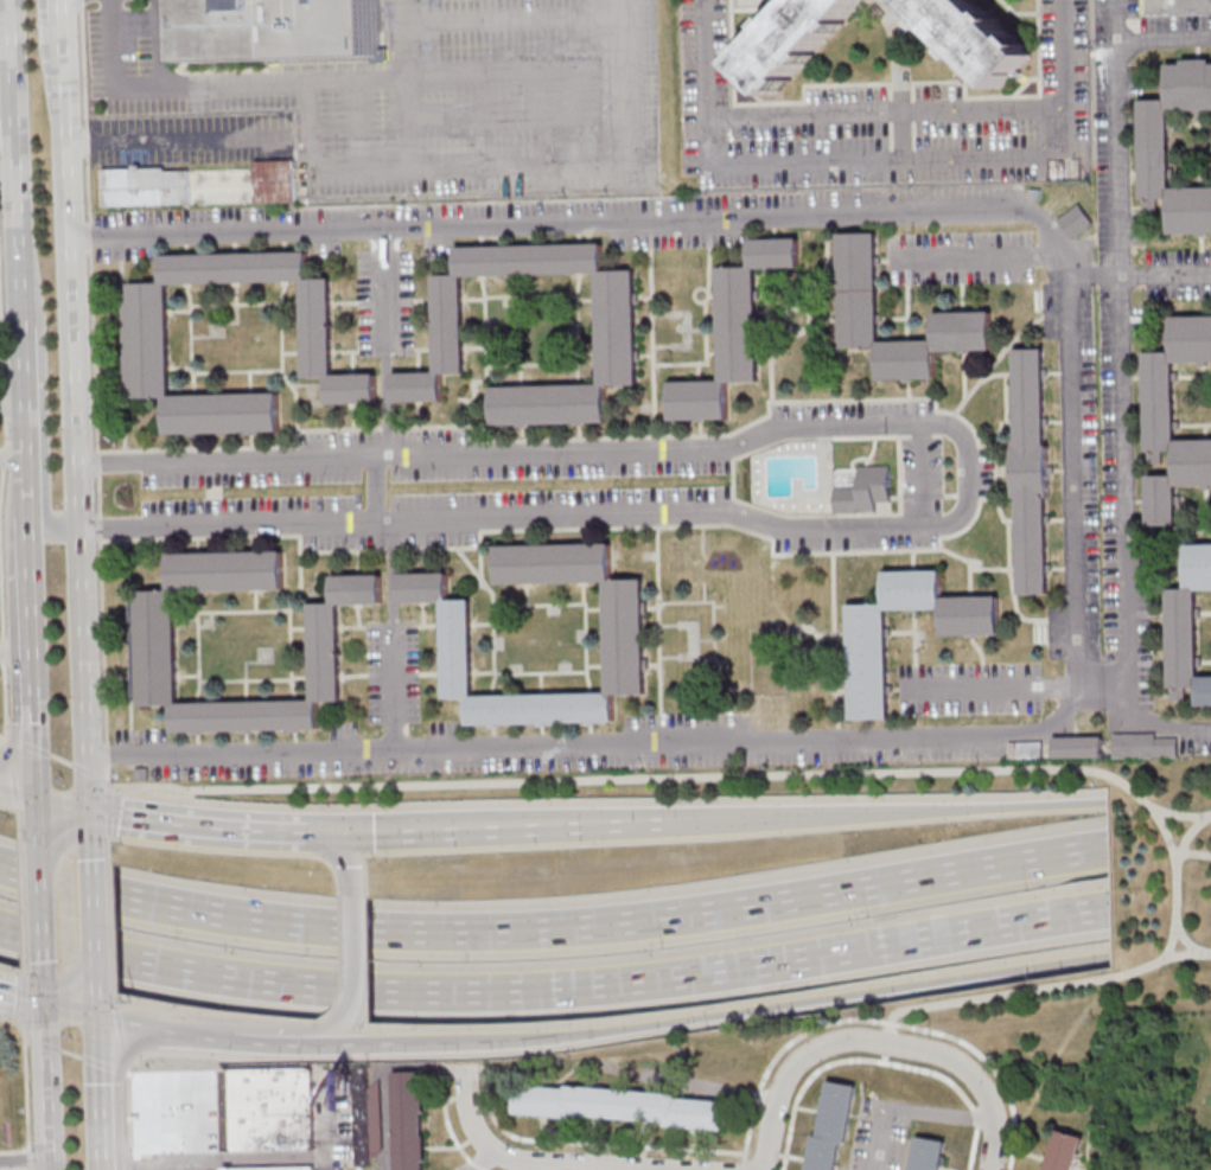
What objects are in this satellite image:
road: (518, 20)
road: (1111, 20)
building: (270, 23)
building: (974, 37)
road: (5, 39)
building: (793, 39)
road: (1161, 39)
road: (49, 60)
road: (64, 60)
road: (520, 69)
road: (357, 81)
road: (409, 85)
road: (880, 111)
road: (520, 117)
road: (357, 127)
road: (900, 135)
road: (176, 140)
building: (1154, 147)
road: (887, 159)
road: (14, 161)
road: (371, 172)
road: (7, 174)
building: (273, 179)
building: (144, 185)
building: (1075, 220)
road: (977, 254)
building: (855, 270)
road: (1164, 276)
road: (1088, 279)
building: (614, 321)
building: (145, 330)
building: (732, 330)
road: (387, 344)
road: (6, 386)
road: (21, 389)
road: (94, 394)
road: (11, 407)
building: (1173, 416)
road: (1118, 423)
road: (540, 453)
road: (12, 455)
road: (75, 466)
building: (1030, 469)
road: (1067, 469)
road: (922, 474)
road: (375, 490)
building: (862, 490)
road: (25, 497)
road: (43, 501)
road: (544, 514)
road: (1, 597)
building: (1187, 625)
road: (393, 634)
building: (624, 645)
building: (152, 647)
road: (0, 651)
road: (14, 652)
road: (30, 671)
building: (866, 676)
road: (1020, 686)
road: (6, 699)
building: (786, 704)
road: (2, 735)
road: (2, 739)
road: (26, 744)
building: (1075, 744)
building: (1141, 744)
building: (1024, 749)
road: (60, 759)
road: (11, 773)
road: (89, 774)
road: (665, 778)
road: (17, 798)
traffic signals: (36, 803)
road: (62, 806)
traffic signals: (88, 811)
road: (107, 811)
road: (880, 813)
road: (18, 823)
road: (37, 823)
road: (203, 826)
road: (489, 830)
traffic signals: (320, 832)
road: (1188, 832)
road: (88, 835)
road: (108, 840)
road: (1194, 852)
road: (345, 858)
road: (1175, 878)
park: (1158, 883)
road: (21, 903)
road: (39, 909)
road: (110, 922)
road: (91, 923)
road: (552, 928)
road: (1185, 939)
road: (353, 957)
road: (42, 987)
road: (553, 989)
road: (1028, 989)
road: (20, 996)
road: (24, 998)
traffic signals: (43, 999)
road: (94, 1000)
road: (69, 1006)
traffic signals: (95, 1014)
road: (715, 1014)
road: (13, 1021)
road: (155, 1028)
road: (912, 1028)
road: (333, 1030)
road: (269, 1036)
road: (27, 1040)
road: (44, 1047)
road: (71, 1053)
road: (103, 1063)
road: (801, 1067)
road: (930, 1072)
road: (127, 1074)
road: (129, 1081)
road: (45, 1085)
road: (976, 1085)
road: (714, 1087)
road: (98, 1091)
road: (27, 1097)
building: (620, 1107)
building: (268, 1108)
road: (938, 1115)
building: (409, 1120)
building: (829, 1129)
road: (882, 1140)
building: (1062, 1150)
building: (929, 1153)
road: (243, 1161)
road: (478, 1161)
road: (510, 1161)
road: (129, 1163)
road: (157, 1166)
building: (272, 1168)

